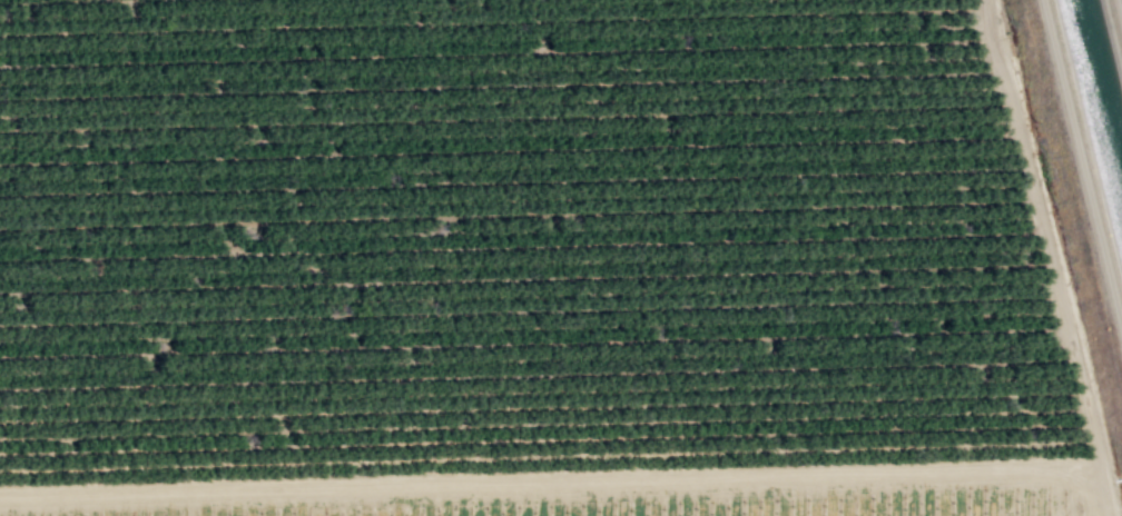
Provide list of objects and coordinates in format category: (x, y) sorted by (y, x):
road: (1119, 11)
road: (1044, 232)
road: (550, 482)
road: (1106, 490)
road: (1016, 492)
crop: (618, 493)
road: (545, 499)
road: (190, 505)

